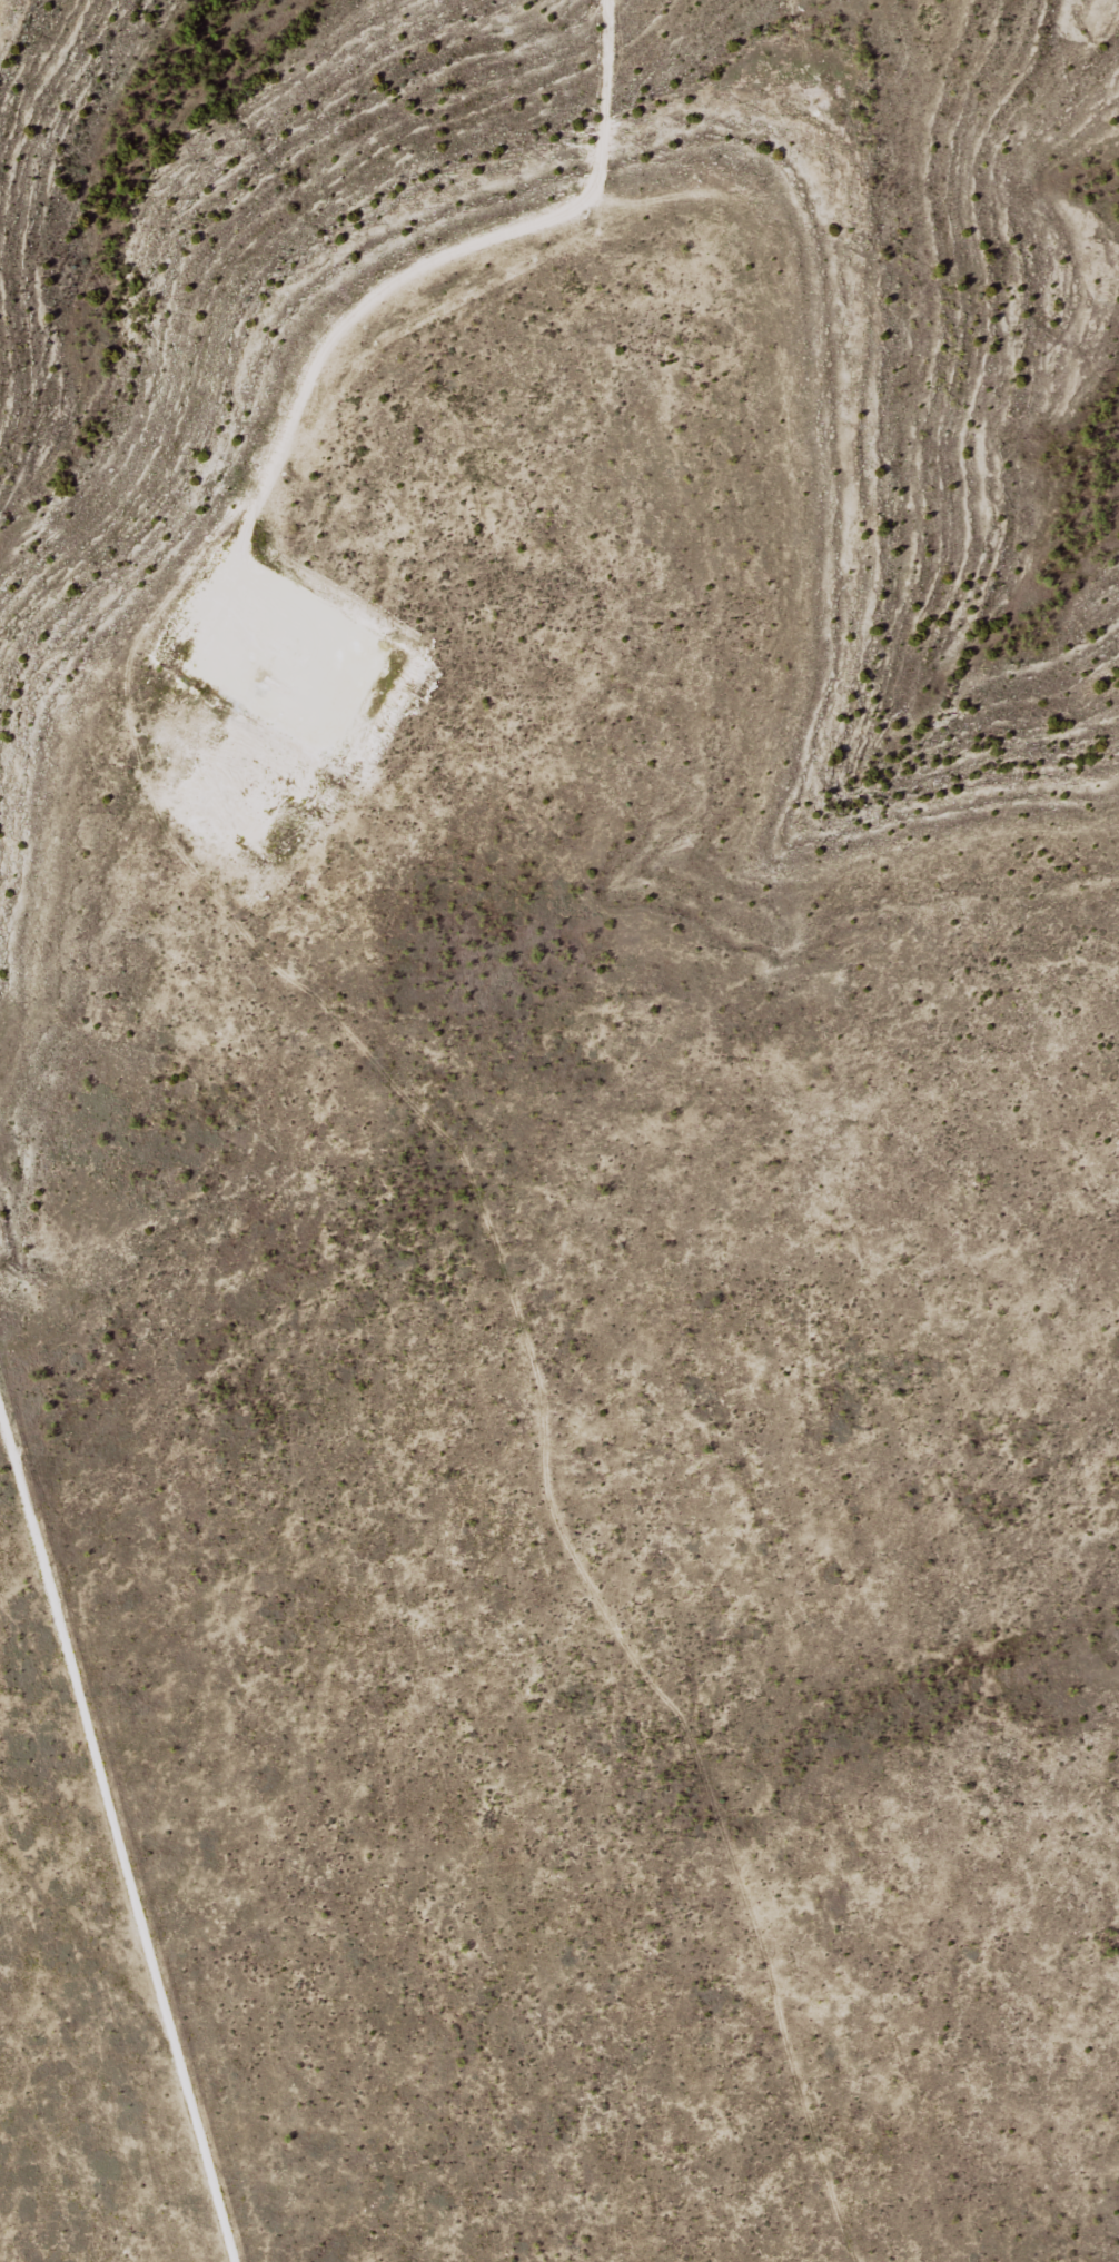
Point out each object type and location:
road: (181, 1995)

